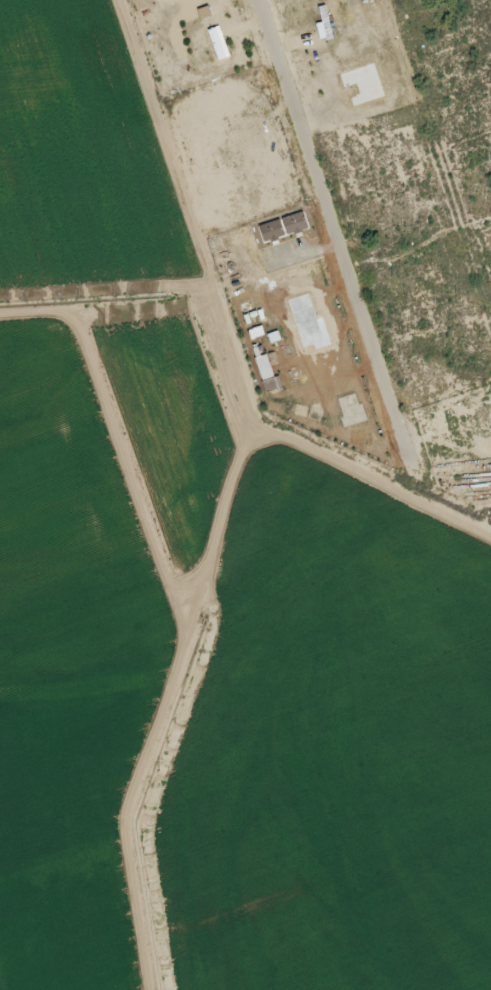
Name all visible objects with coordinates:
building: (205, 12)
building: (218, 42)
road: (185, 210)
building: (294, 223)
building: (271, 230)
road: (339, 239)
building: (263, 366)
building: (270, 384)
road: (374, 481)

